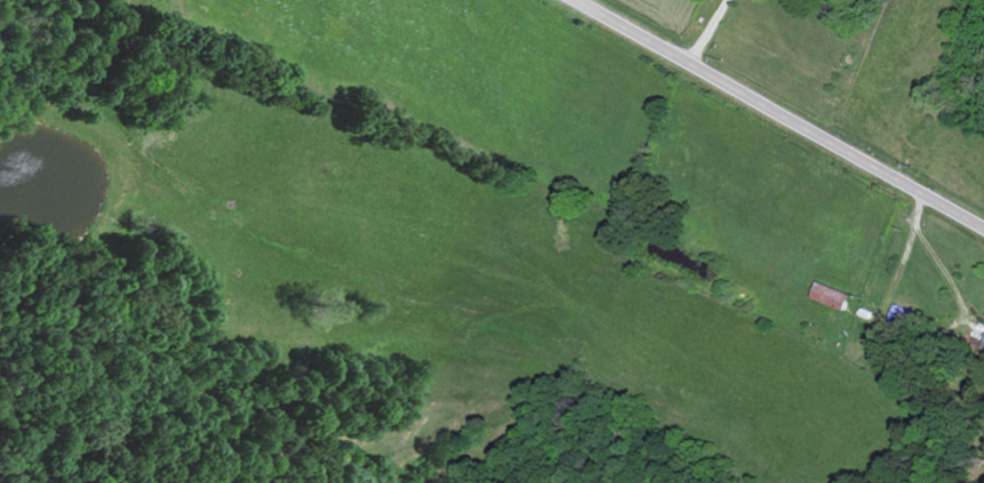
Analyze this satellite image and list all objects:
road: (660, 20)
road: (779, 114)
building: (832, 296)

